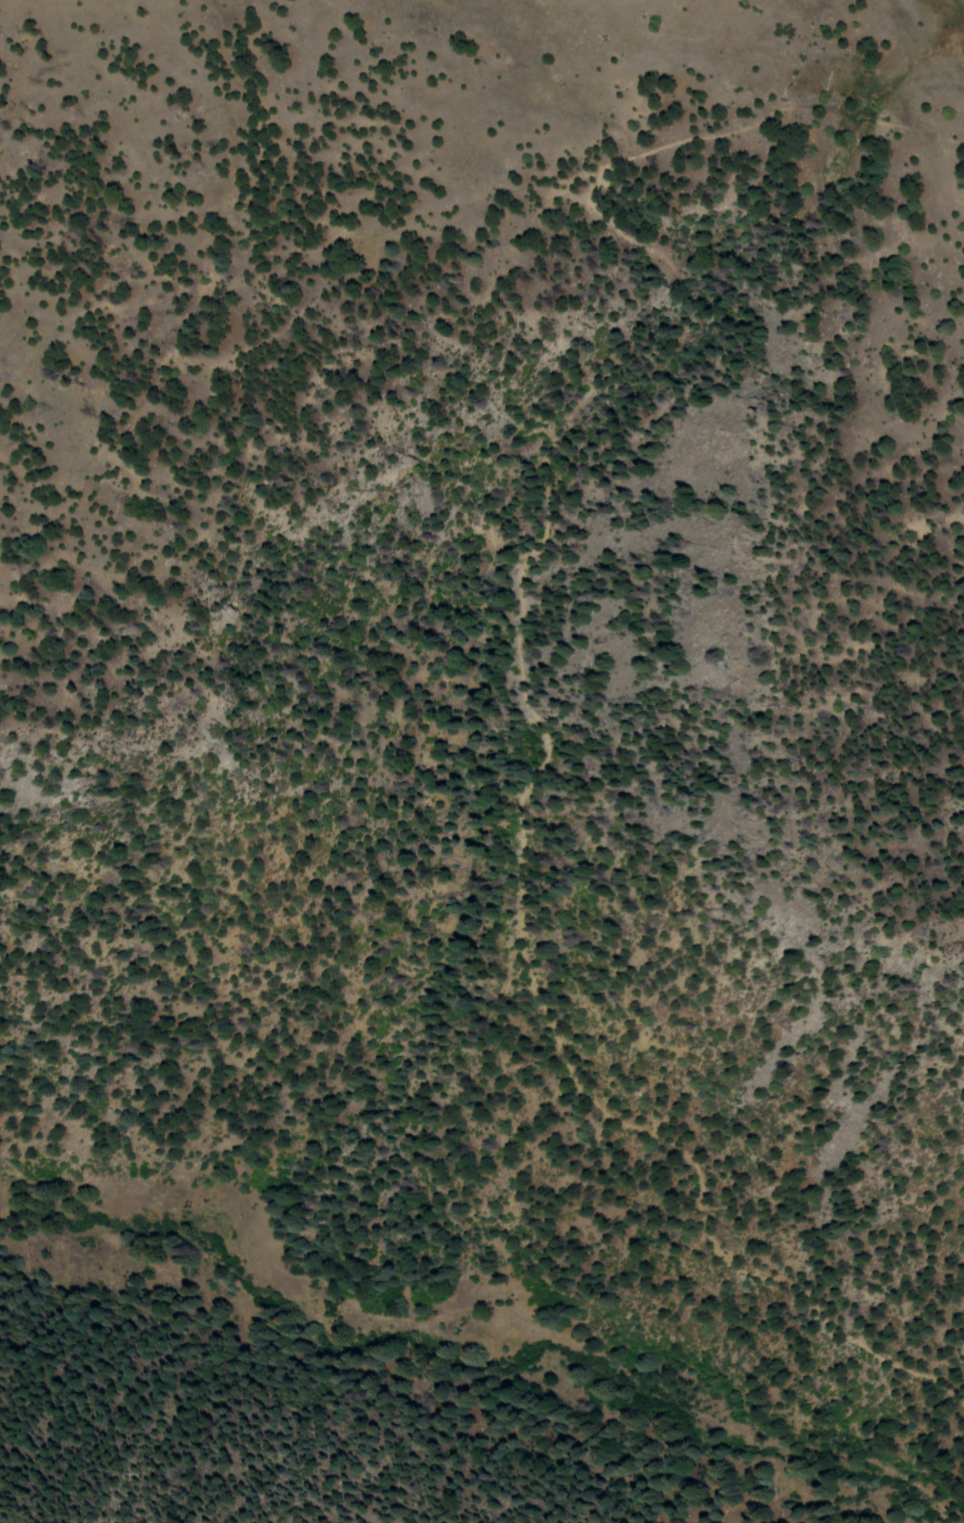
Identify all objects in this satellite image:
road: (521, 614)
road: (479, 1304)

